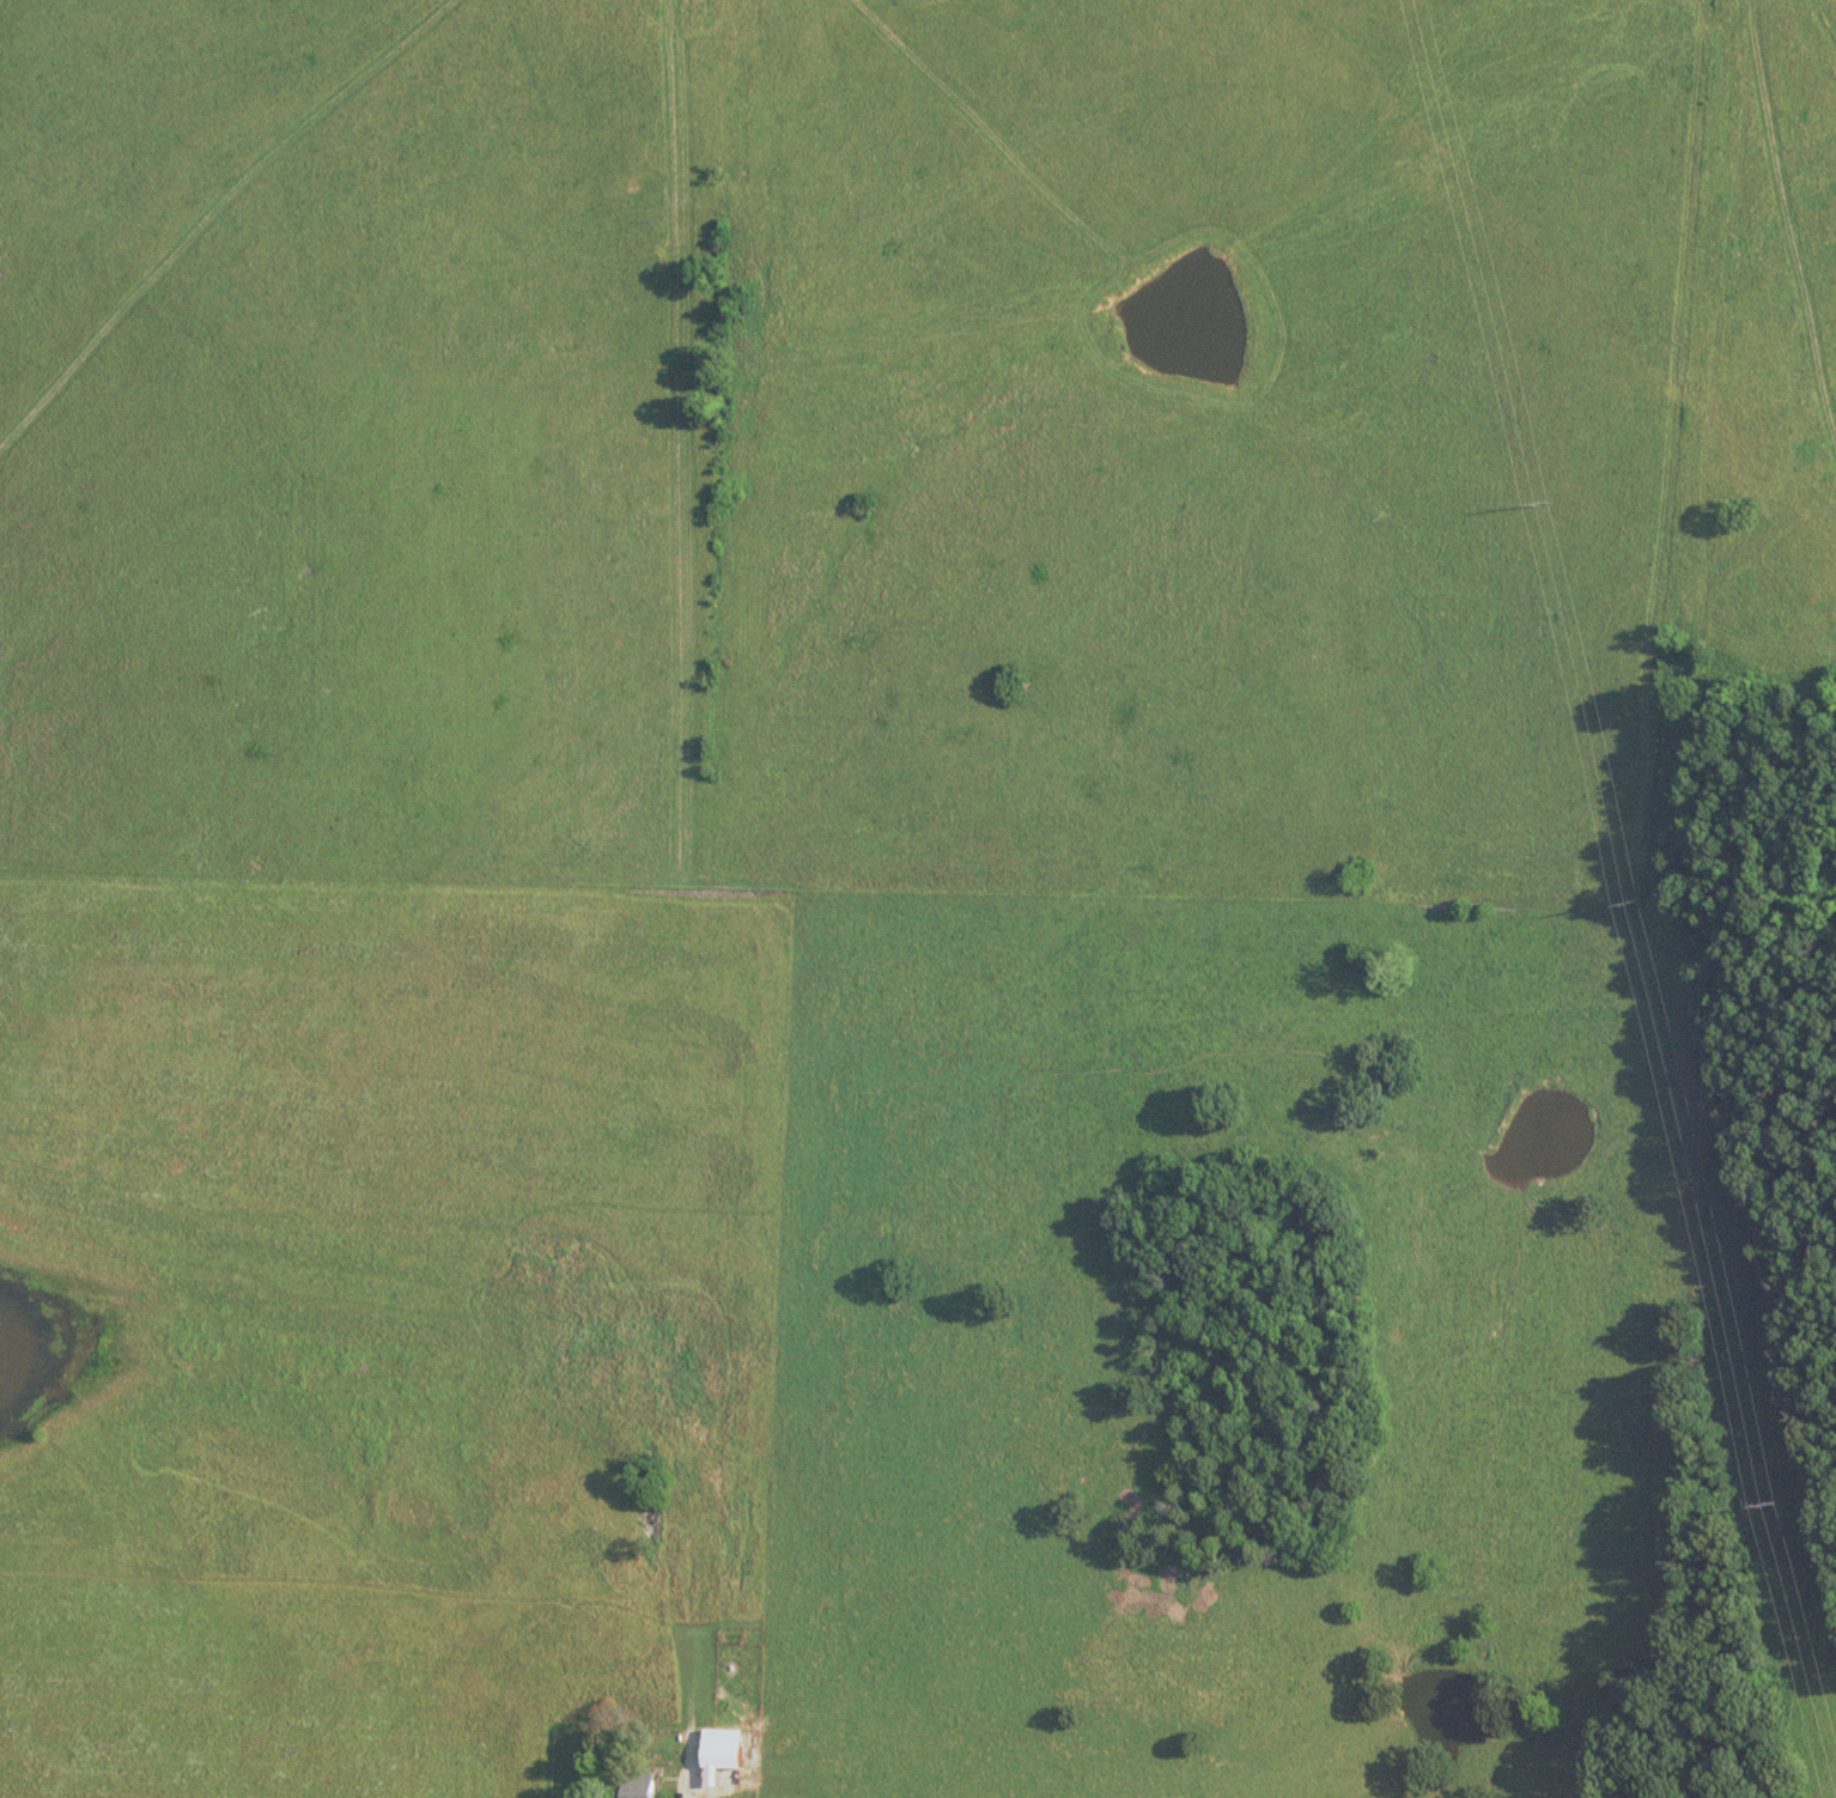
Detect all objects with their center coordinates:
building: (719, 1753)
building: (638, 1785)
road: (686, 1791)

